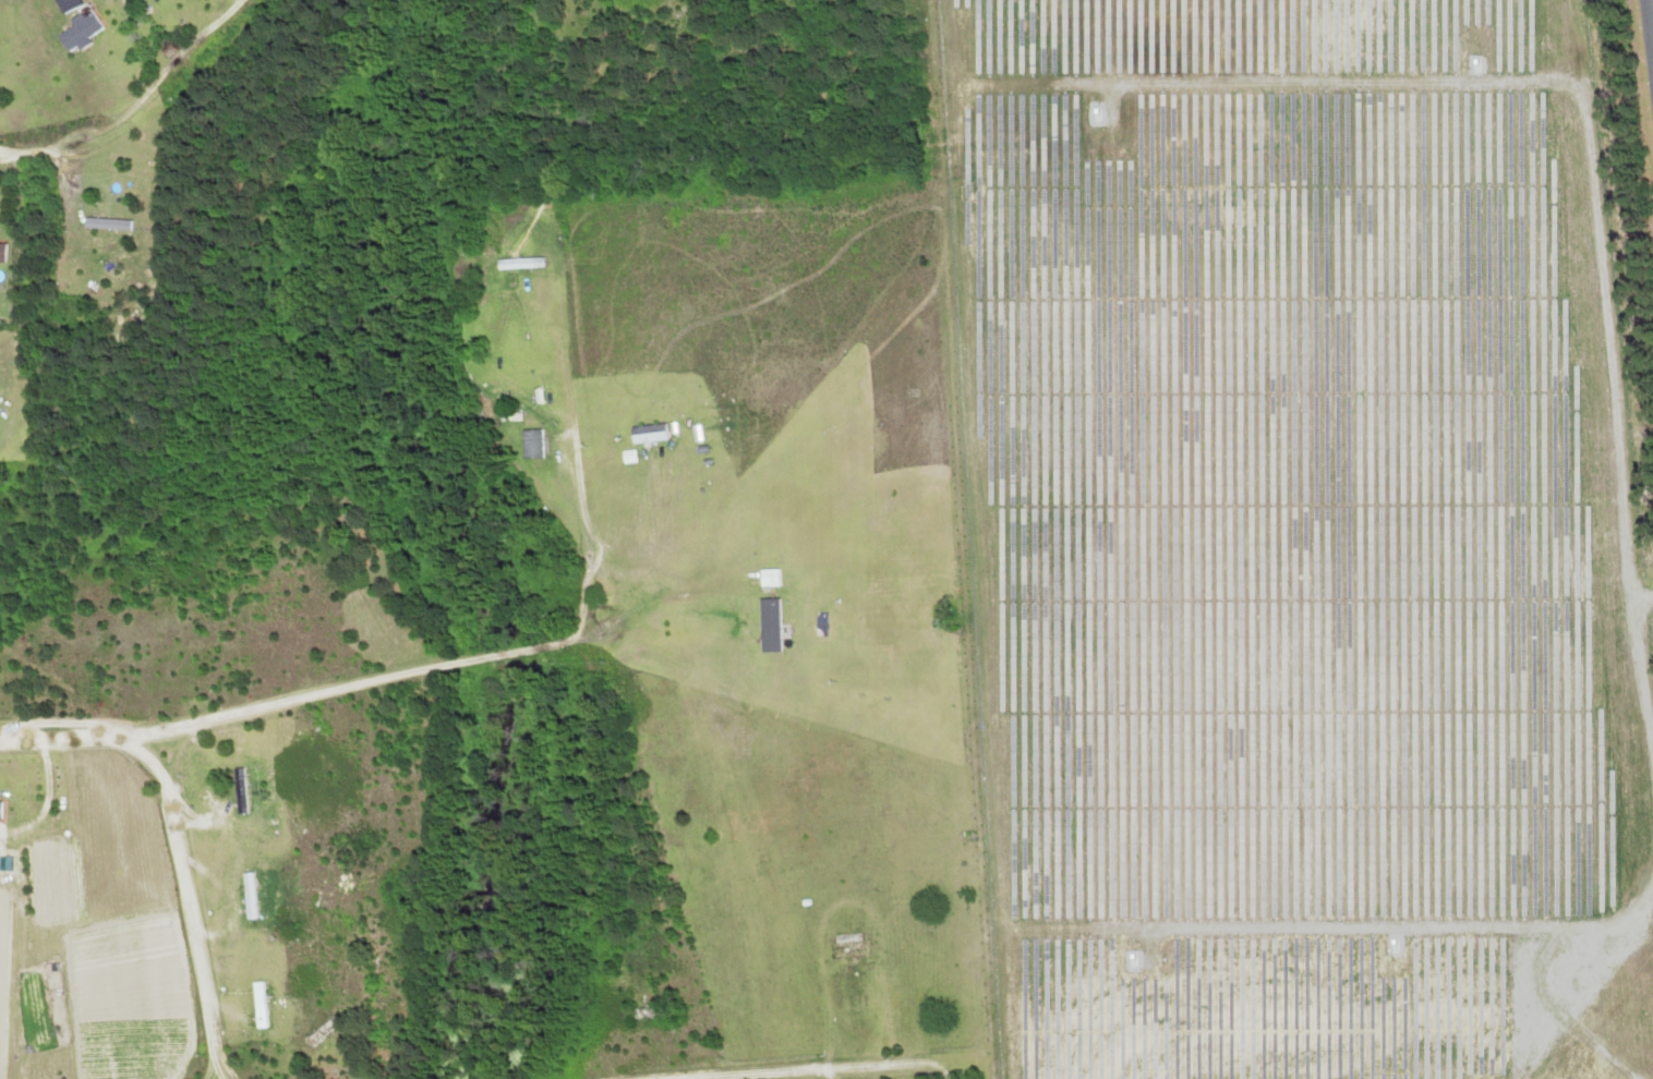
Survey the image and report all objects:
building: (64, 4)
building: (76, 31)
road: (1649, 31)
road: (137, 106)
building: (1, 253)
building: (519, 264)
building: (648, 434)
building: (531, 444)
building: (768, 578)
building: (769, 626)
road: (394, 677)
building: (240, 791)
building: (0, 810)
road: (186, 882)
building: (250, 895)
building: (848, 948)
building: (258, 1004)
building: (649, 1013)
road: (213, 1060)
road: (220, 1062)
road: (830, 1071)

